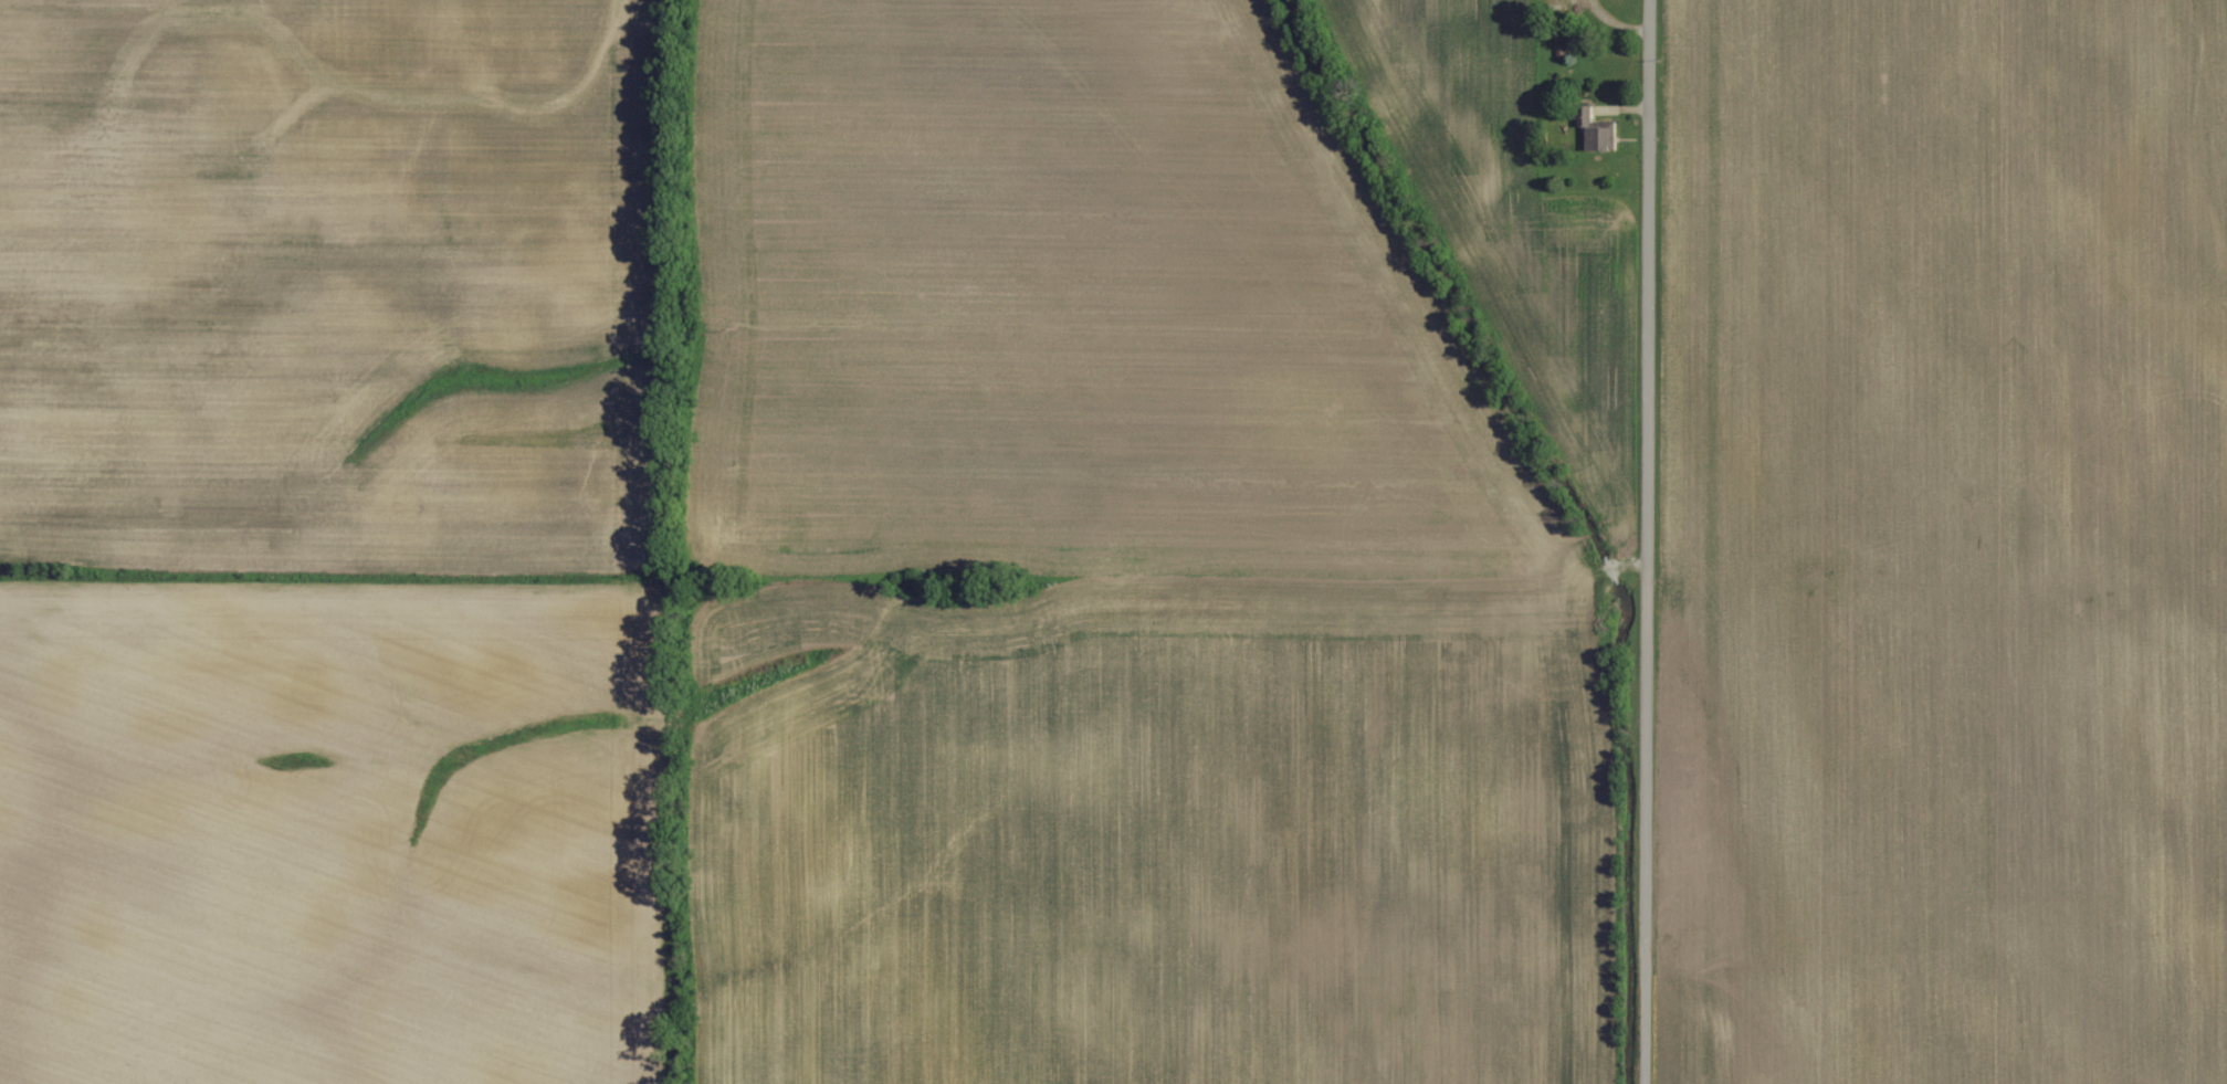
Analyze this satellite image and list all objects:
road: (1648, 541)
road: (1566, 569)

